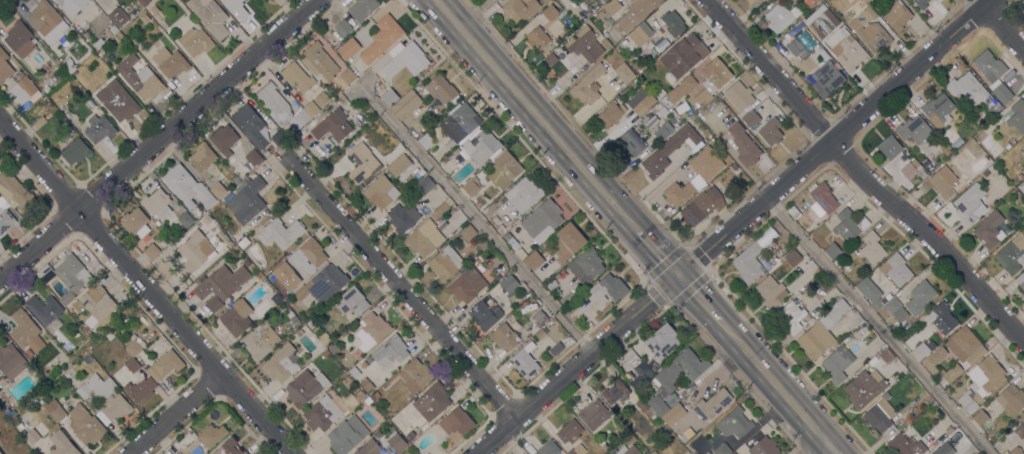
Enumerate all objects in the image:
building: (97, 0)
building: (605, 0)
building: (785, 0)
building: (545, 1)
building: (142, 2)
building: (809, 2)
building: (871, 2)
building: (922, 3)
building: (71, 5)
building: (612, 6)
building: (362, 8)
building: (153, 9)
building: (236, 9)
building: (518, 9)
building: (550, 12)
building: (635, 13)
building: (895, 15)
building: (117, 16)
building: (210, 16)
building: (780, 17)
building: (144, 19)
building: (47, 20)
building: (820, 22)
building: (673, 23)
road: (1000, 26)
building: (342, 27)
building: (111, 31)
building: (643, 31)
building: (870, 31)
building: (381, 38)
building: (537, 38)
building: (20, 39)
building: (805, 40)
building: (195, 41)
building: (99, 43)
building: (605, 43)
building: (584, 44)
building: (348, 48)
building: (796, 48)
building: (100, 51)
building: (823, 54)
building: (683, 55)
building: (549, 58)
building: (851, 58)
building: (406, 60)
building: (319, 61)
building: (170, 62)
building: (69, 65)
building: (4, 67)
building: (46, 68)
building: (624, 73)
building: (993, 75)
building: (828, 76)
building: (139, 77)
building: (297, 77)
building: (346, 77)
building: (711, 80)
building: (378, 83)
building: (583, 83)
building: (45, 89)
building: (24, 90)
building: (678, 90)
building: (442, 91)
building: (972, 91)
building: (738, 95)
building: (389, 97)
building: (341, 98)
building: (117, 100)
building: (640, 102)
building: (315, 104)
building: (406, 104)
building: (47, 106)
building: (60, 107)
building: (280, 107)
building: (937, 108)
building: (678, 111)
building: (610, 113)
road: (535, 115)
building: (1015, 115)
building: (751, 118)
building: (981, 119)
building: (40, 122)
building: (459, 124)
building: (250, 125)
building: (332, 125)
building: (99, 128)
building: (914, 130)
building: (663, 131)
building: (771, 131)
building: (277, 138)
building: (223, 139)
building: (426, 141)
building: (632, 142)
road: (162, 143)
building: (744, 145)
building: (991, 145)
building: (481, 147)
building: (890, 147)
building: (945, 149)
building: (669, 150)
building: (75, 151)
building: (1022, 151)
building: (453, 153)
building: (202, 156)
building: (253, 157)
building: (361, 162)
building: (706, 163)
building: (399, 165)
building: (910, 169)
building: (504, 170)
building: (922, 175)
road: (864, 177)
building: (953, 177)
building: (1019, 177)
building: (423, 186)
building: (472, 186)
building: (187, 187)
building: (1022, 187)
building: (218, 190)
building: (15, 191)
building: (379, 191)
building: (678, 193)
building: (524, 194)
building: (404, 197)
building: (822, 199)
building: (247, 200)
building: (157, 203)
building: (446, 203)
building: (970, 203)
building: (701, 206)
building: (4, 215)
road: (474, 216)
building: (402, 217)
building: (206, 219)
building: (185, 220)
building: (542, 221)
building: (135, 222)
building: (849, 224)
road: (729, 227)
building: (500, 228)
building: (989, 229)
building: (280, 232)
building: (468, 232)
building: (424, 238)
building: (511, 241)
building: (216, 242)
building: (243, 242)
building: (566, 243)
building: (544, 245)
building: (871, 247)
building: (832, 250)
building: (151, 251)
road: (656, 253)
building: (193, 254)
building: (1011, 254)
building: (309, 255)
building: (482, 257)
building: (793, 258)
building: (534, 260)
building: (749, 262)
building: (836, 262)
building: (445, 263)
building: (280, 265)
building: (586, 265)
building: (895, 269)
building: (67, 274)
building: (258, 275)
traffic signals: (675, 275)
building: (1020, 280)
building: (509, 283)
building: (323, 284)
building: (552, 284)
building: (221, 285)
building: (467, 285)
road: (146, 286)
road: (397, 287)
building: (607, 289)
building: (771, 291)
building: (556, 292)
building: (870, 293)
building: (291, 297)
building: (919, 297)
building: (275, 298)
building: (514, 298)
road: (695, 298)
building: (351, 301)
building: (96, 306)
building: (895, 308)
building: (45, 311)
building: (485, 313)
building: (236, 317)
building: (791, 317)
building: (293, 318)
building: (539, 318)
building: (941, 318)
building: (310, 325)
building: (553, 325)
building: (589, 325)
road: (876, 325)
building: (315, 329)
building: (372, 329)
building: (26, 331)
building: (821, 331)
building: (108, 332)
building: (299, 333)
building: (540, 333)
building: (110, 336)
building: (504, 337)
building: (325, 340)
building: (261, 341)
building: (661, 341)
building: (317, 342)
building: (965, 345)
building: (133, 346)
building: (556, 348)
building: (333, 349)
building: (390, 351)
building: (920, 351)
building: (28, 353)
building: (325, 354)
building: (886, 356)
building: (368, 359)
building: (11, 361)
building: (526, 361)
building: (933, 361)
building: (280, 363)
building: (165, 364)
building: (363, 364)
building: (837, 364)
building: (868, 364)
building: (132, 365)
building: (637, 368)
building: (680, 369)
building: (354, 372)
building: (952, 373)
building: (415, 375)
building: (982, 382)
building: (366, 384)
road: (770, 384)
building: (305, 387)
building: (864, 388)
building: (140, 389)
building: (615, 392)
building: (376, 394)
building: (104, 398)
building: (354, 399)
building: (671, 399)
building: (1011, 399)
building: (368, 401)
building: (432, 401)
building: (712, 403)
building: (642, 404)
building: (657, 404)
building: (54, 409)
building: (322, 413)
building: (594, 414)
building: (880, 414)
building: (653, 416)
building: (674, 416)
building: (980, 417)
road: (184, 418)
building: (734, 423)
building: (17, 424)
building: (85, 425)
building: (456, 425)
building: (948, 430)
building: (1020, 430)
building: (569, 431)
building: (211, 435)
building: (346, 435)
building: (410, 435)
building: (32, 436)
building: (631, 438)
building: (639, 438)
building: (397, 443)
building: (61, 444)
building: (907, 445)
building: (764, 446)
building: (229, 448)
building: (369, 448)
building: (548, 448)
building: (722, 449)
building: (577, 450)
building: (628, 450)
road: (820, 450)
road: (828, 450)
building: (1016, 451)
building: (653, 452)
building: (178, 453)
building: (733, 453)
building: (933, 453)

